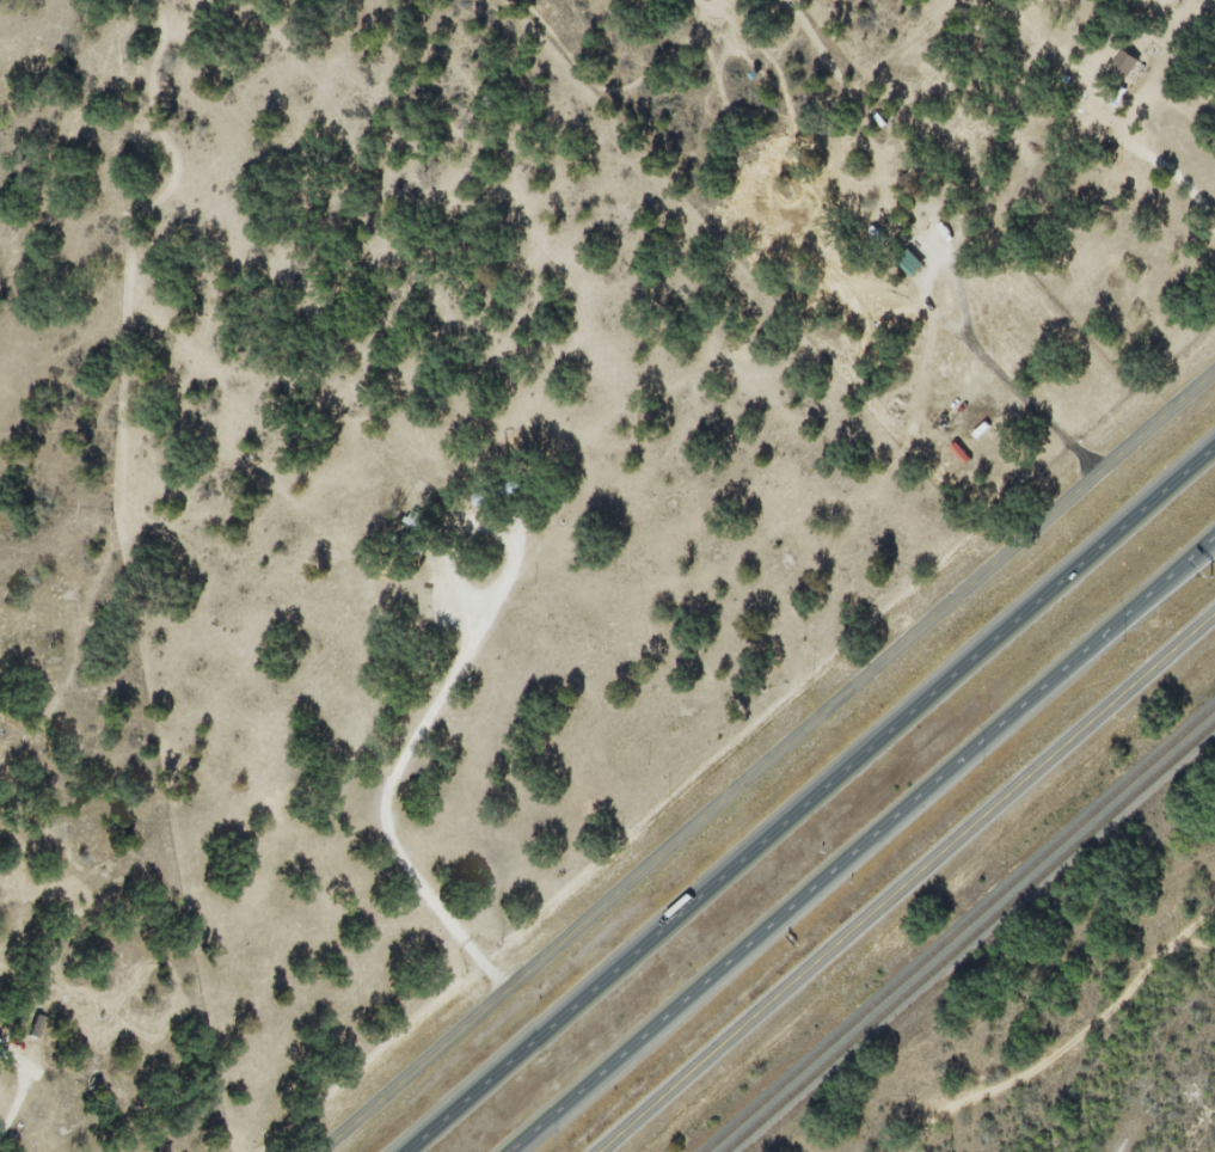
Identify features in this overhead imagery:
road: (435, 701)
road: (772, 764)
road: (809, 799)
road: (863, 842)
road: (906, 882)
railway: (955, 925)
railway: (970, 938)
road: (1191, 948)
road: (1041, 1060)
road: (1, 1139)

